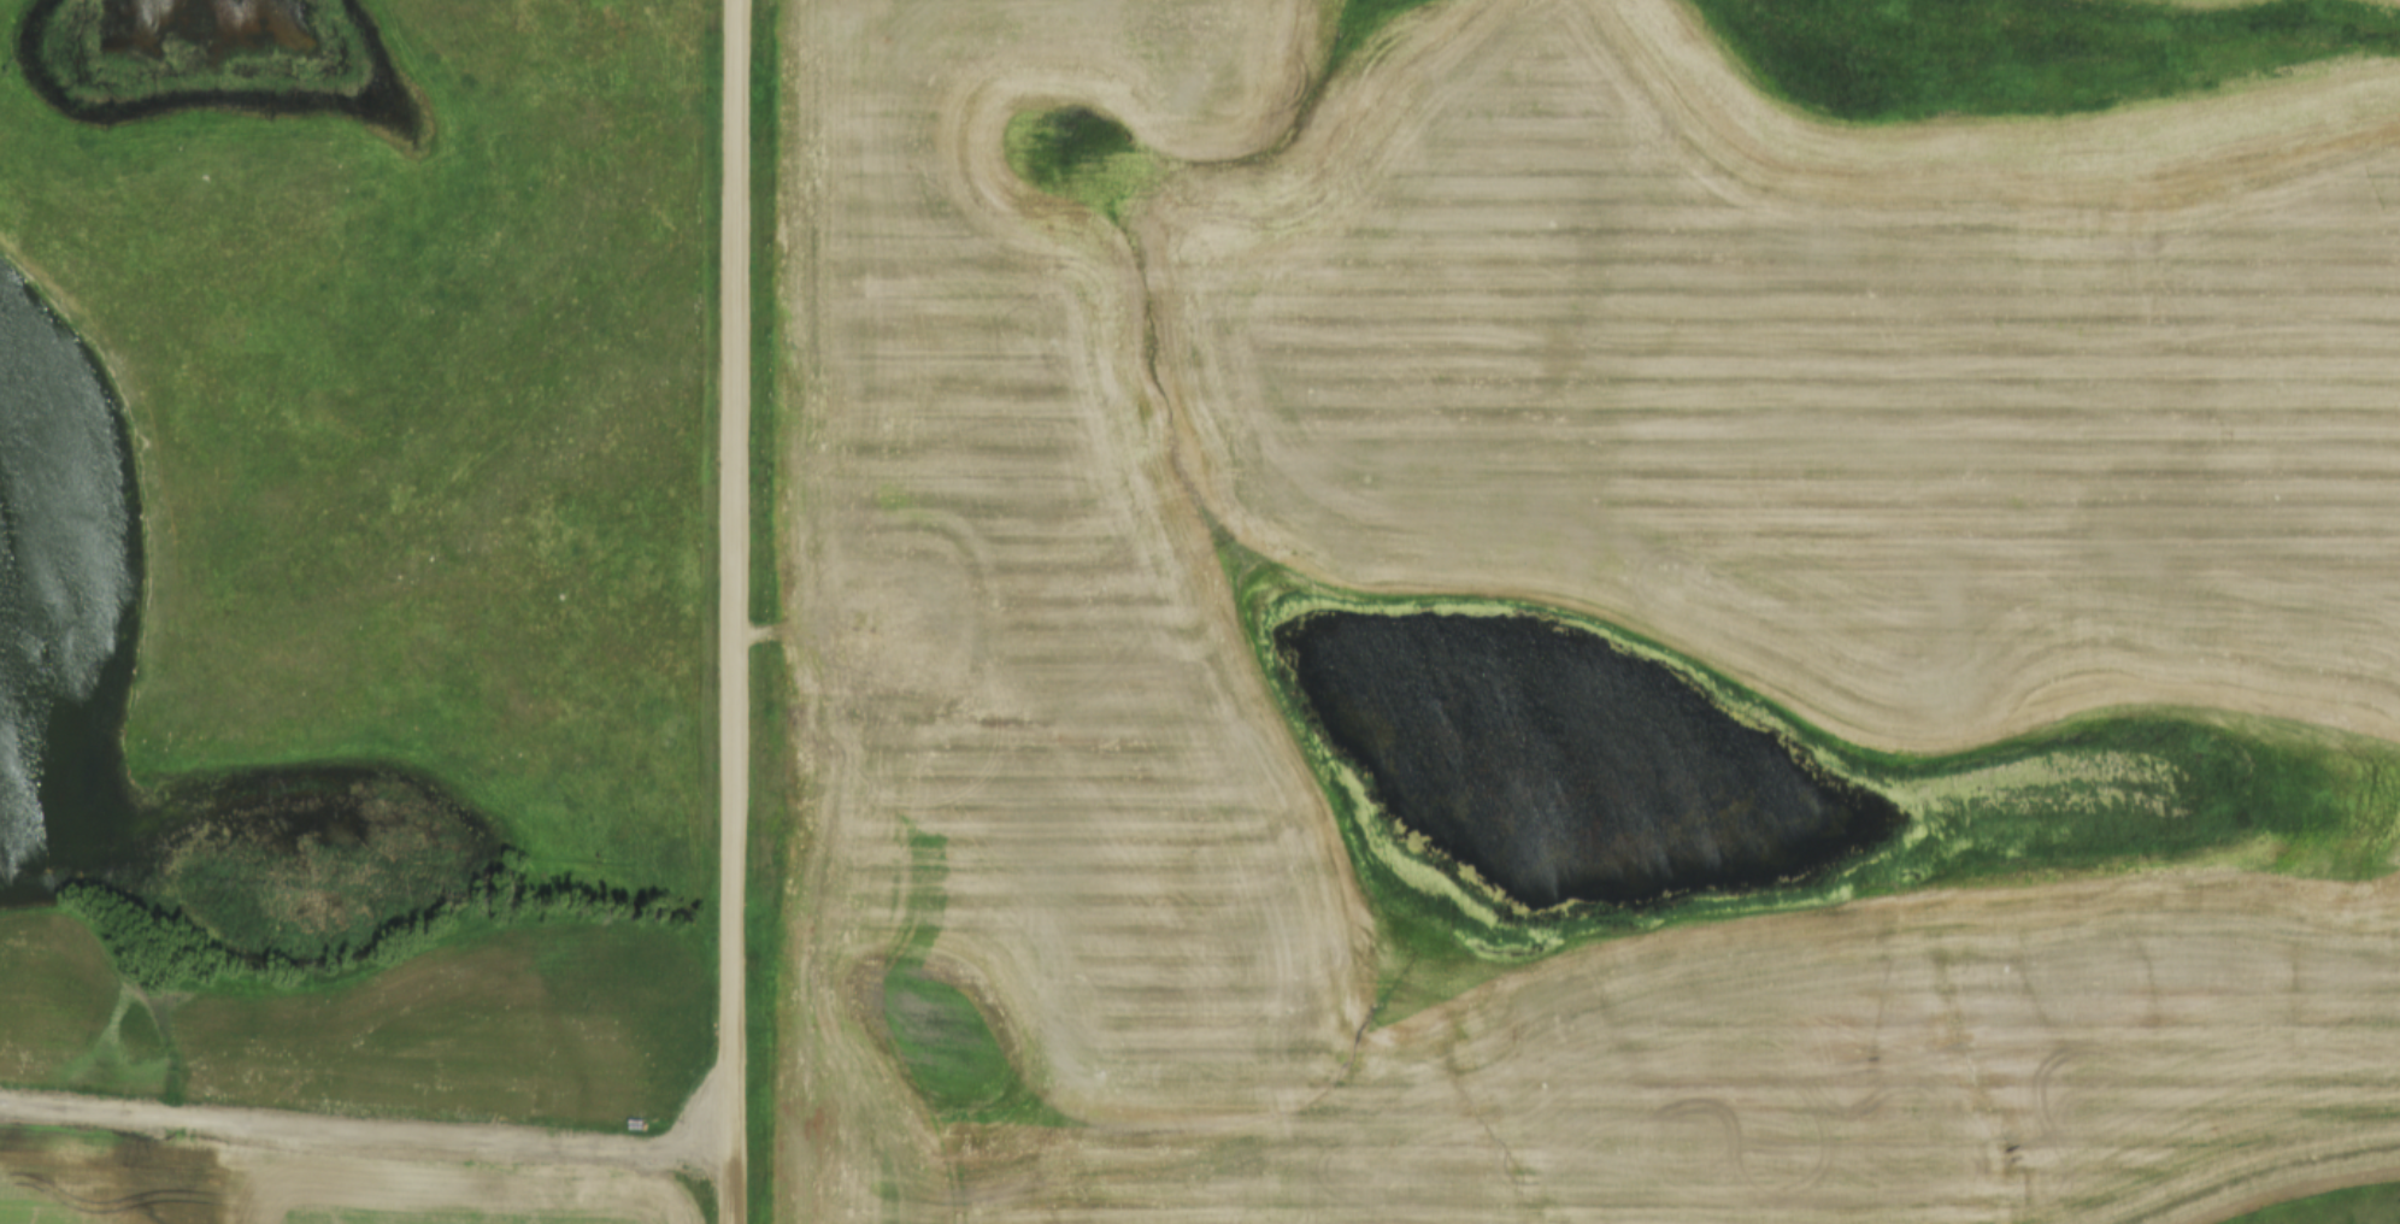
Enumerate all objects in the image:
road: (735, 611)
road: (366, 1129)

